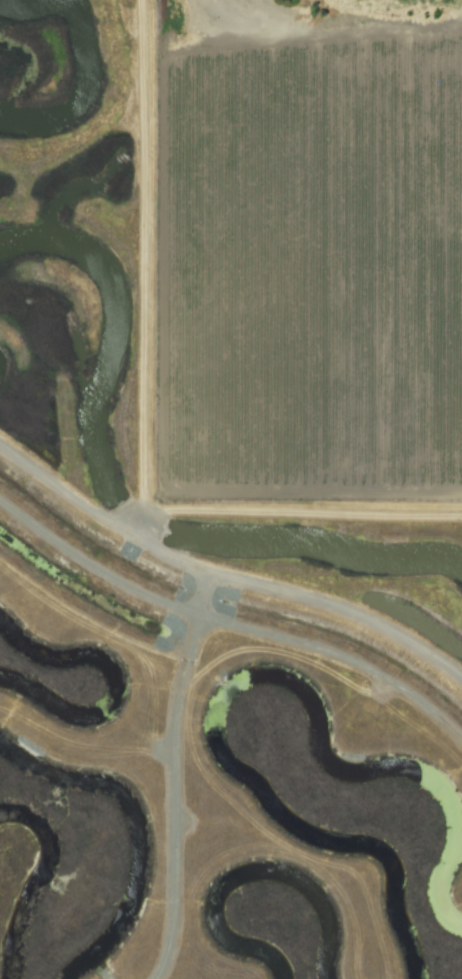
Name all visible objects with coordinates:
crop: (309, 270)

